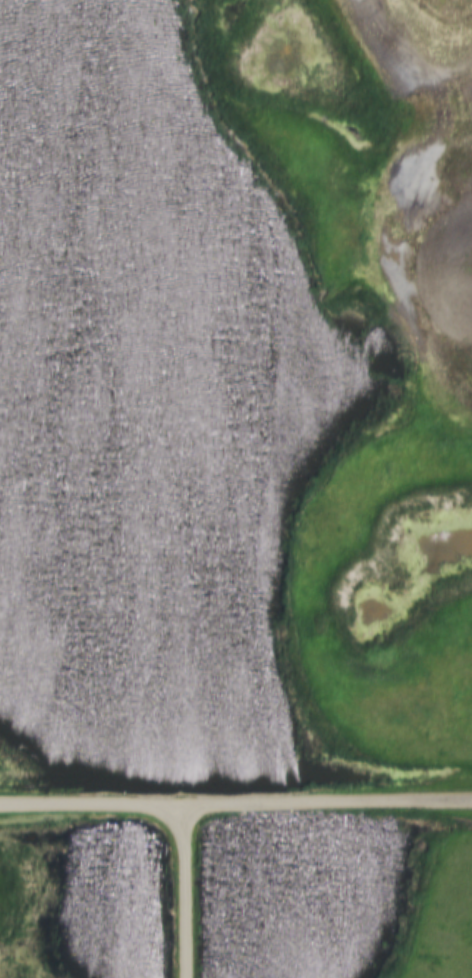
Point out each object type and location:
road: (326, 805)
road: (90, 809)
road: (190, 892)

